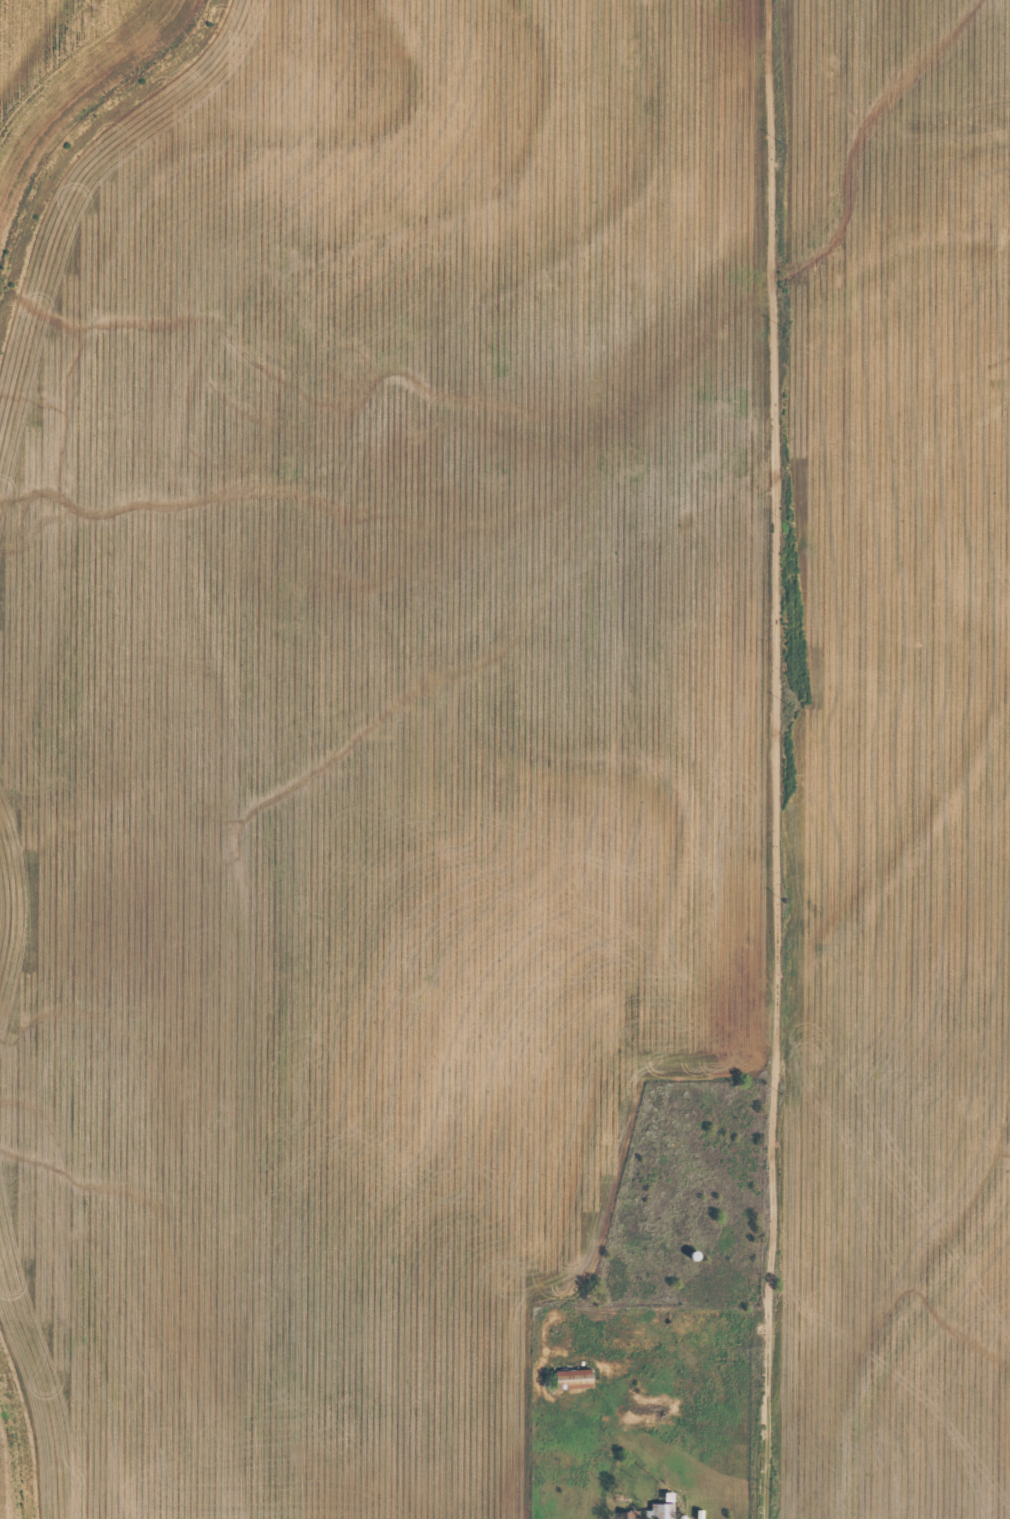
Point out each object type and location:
road: (890, 298)
road: (609, 471)
road: (777, 759)
road: (895, 1078)
building: (572, 1380)

